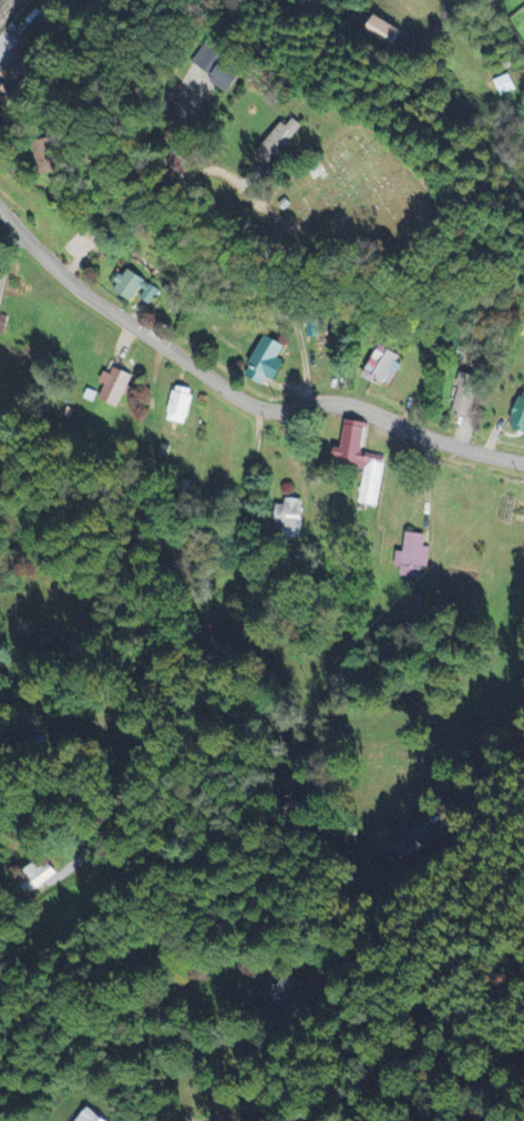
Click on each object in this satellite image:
railway: (4, 4)
road: (432, 27)
building: (223, 74)
building: (17, 85)
building: (505, 85)
building: (280, 143)
road: (91, 174)
park: (361, 197)
road: (7, 240)
road: (225, 251)
building: (137, 288)
building: (268, 363)
building: (384, 365)
building: (115, 387)
road: (235, 396)
building: (468, 396)
building: (182, 406)
building: (520, 420)
building: (361, 462)
road: (248, 500)
building: (288, 516)
building: (414, 557)
road: (58, 728)
road: (490, 771)
road: (44, 869)
building: (280, 997)
road: (248, 1105)
building: (90, 1117)

